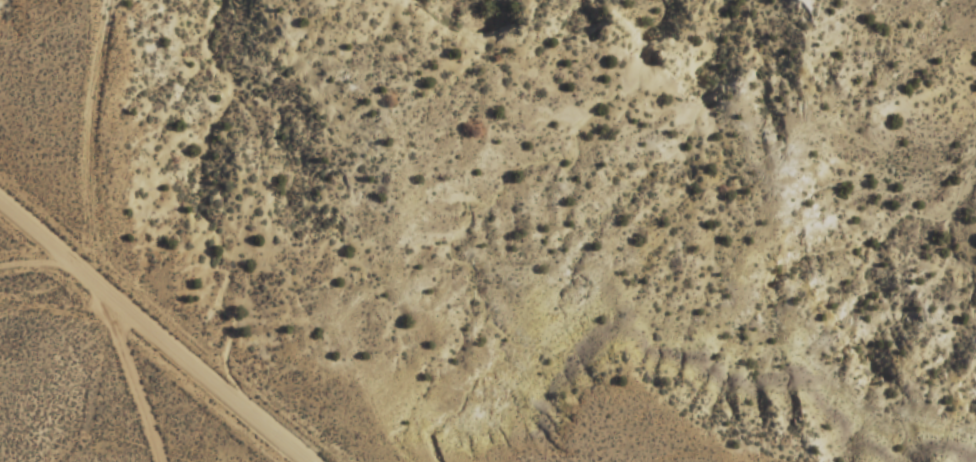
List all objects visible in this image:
road: (88, 234)
road: (155, 334)

